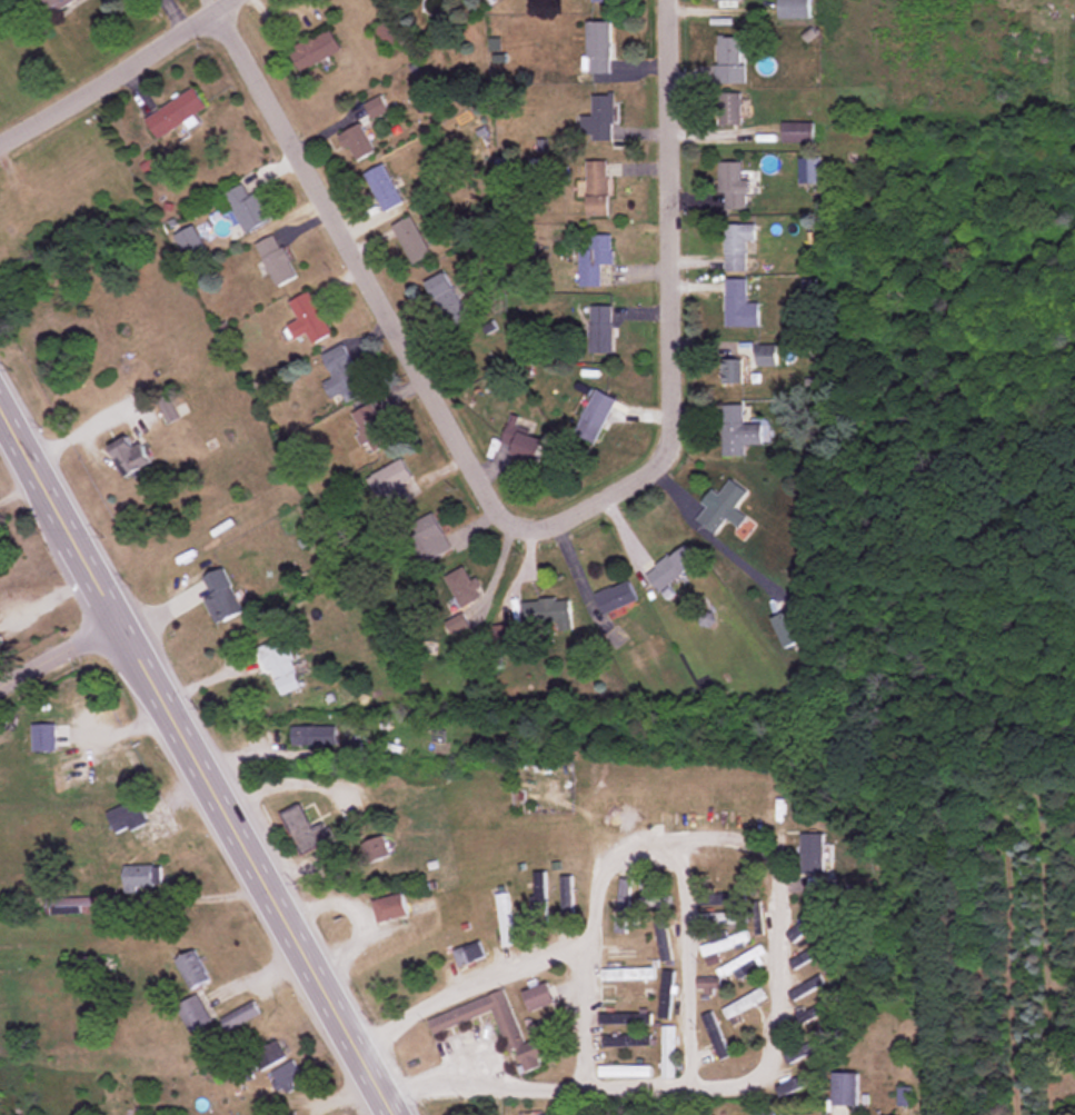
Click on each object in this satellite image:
building: (603, 0)
building: (727, 2)
building: (60, 4)
building: (793, 9)
road: (175, 14)
building: (390, 34)
building: (599, 47)
building: (316, 49)
building: (729, 59)
road: (116, 70)
building: (728, 108)
building: (176, 111)
building: (600, 117)
building: (797, 131)
building: (358, 142)
building: (808, 170)
building: (731, 185)
building: (598, 187)
building: (384, 188)
building: (247, 208)
building: (411, 239)
building: (190, 240)
building: (737, 245)
building: (594, 258)
building: (277, 259)
road: (361, 273)
building: (447, 299)
building: (738, 305)
road: (670, 311)
building: (308, 319)
building: (599, 329)
building: (766, 356)
building: (731, 370)
building: (342, 375)
building: (595, 415)
building: (371, 427)
building: (737, 431)
building: (524, 445)
building: (132, 458)
building: (394, 484)
building: (724, 508)
building: (427, 539)
building: (671, 567)
building: (462, 587)
building: (221, 596)
building: (616, 597)
building: (546, 611)
building: (789, 628)
building: (504, 638)
road: (59, 655)
building: (281, 666)
building: (43, 736)
building: (313, 736)
road: (197, 761)
building: (127, 816)
building: (305, 830)
building: (376, 849)
building: (812, 852)
building: (729, 873)
building: (140, 877)
building: (539, 897)
building: (719, 899)
building: (567, 902)
building: (655, 902)
building: (389, 908)
building: (757, 917)
building: (721, 918)
road: (775, 918)
building: (505, 919)
building: (805, 924)
building: (663, 939)
building: (725, 944)
building: (469, 953)
building: (806, 957)
building: (83, 965)
road: (681, 965)
building: (192, 969)
building: (628, 974)
road: (587, 977)
road: (466, 985)
building: (706, 986)
building: (804, 988)
building: (666, 995)
building: (539, 997)
building: (625, 997)
building: (744, 1003)
building: (195, 1013)
building: (241, 1017)
building: (624, 1019)
building: (499, 1027)
building: (715, 1036)
building: (626, 1041)
building: (805, 1051)
building: (668, 1053)
building: (270, 1055)
building: (625, 1072)
building: (286, 1076)
building: (799, 1083)
road: (481, 1085)
road: (723, 1085)
building: (845, 1088)
building: (903, 1097)
road: (388, 1113)
building: (764, 1113)

